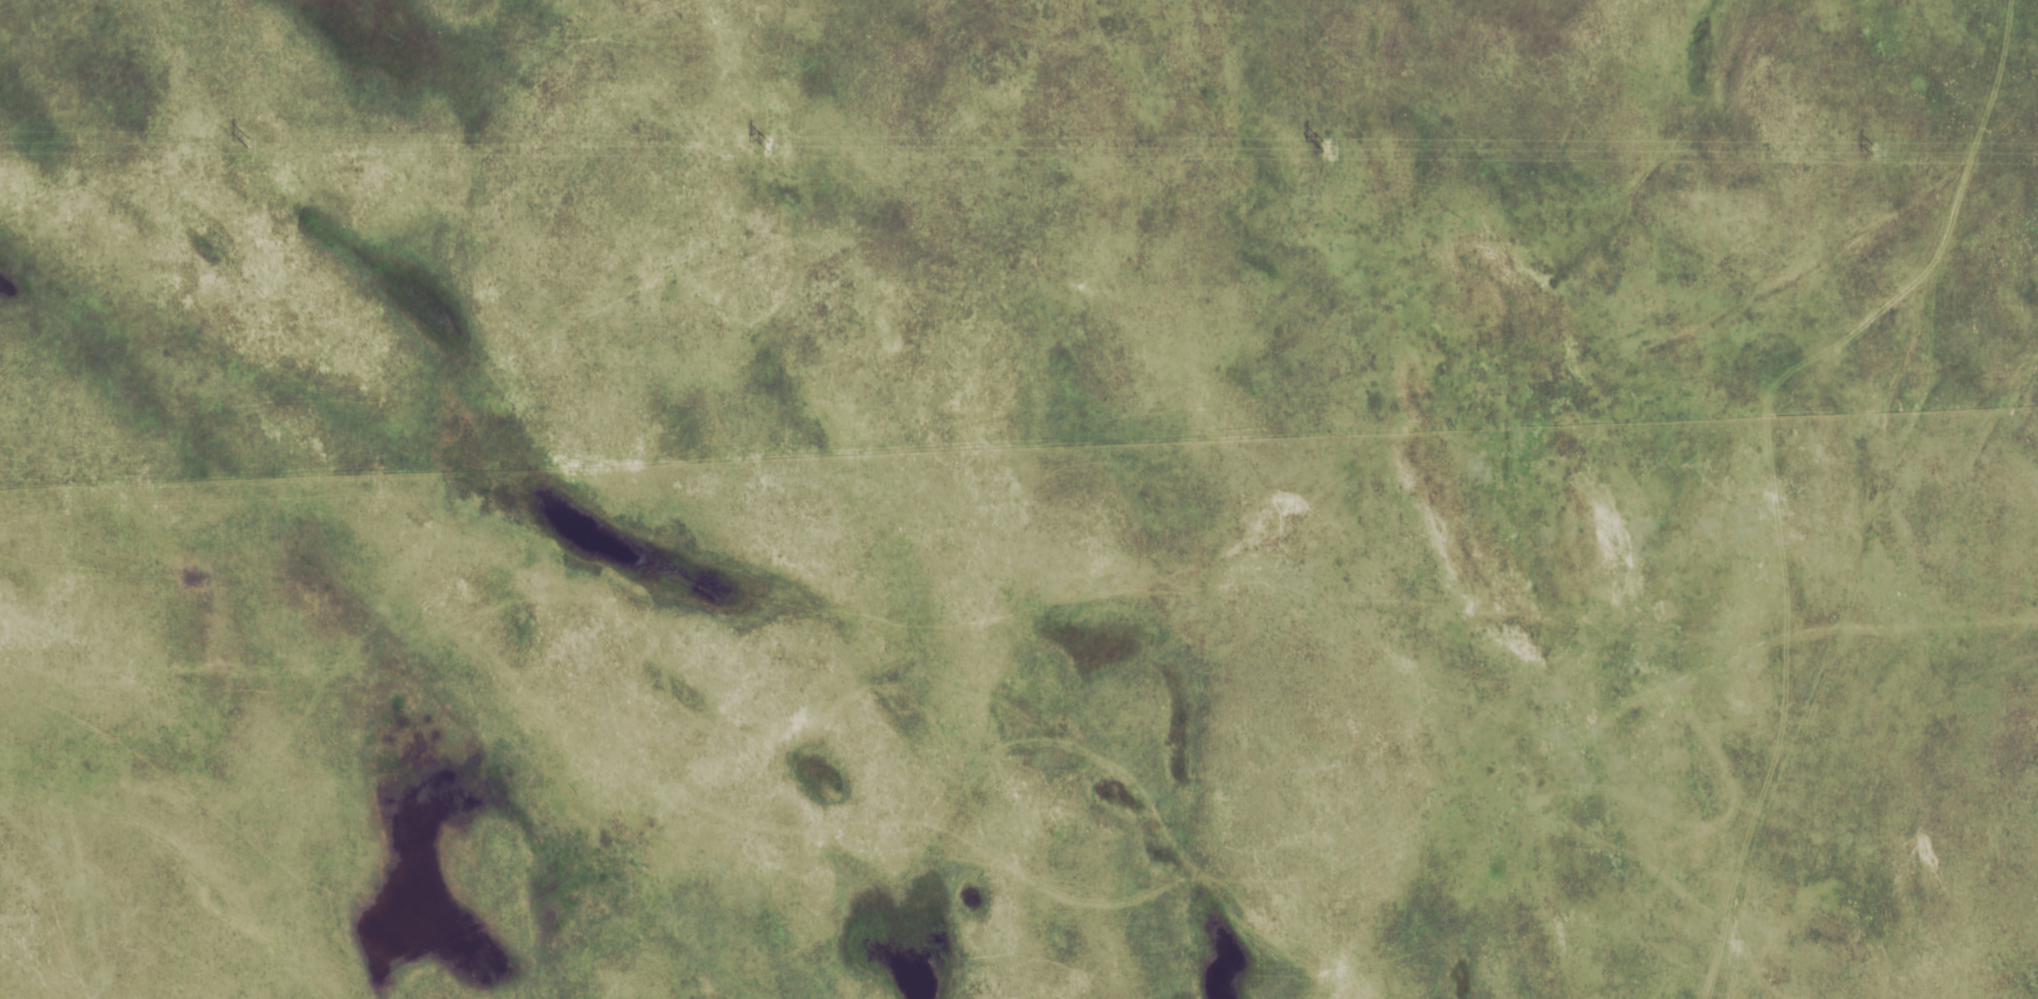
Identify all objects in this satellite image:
power tower: (246, 143)
power tower: (767, 146)
power tower: (1324, 149)
power tower: (1874, 152)

